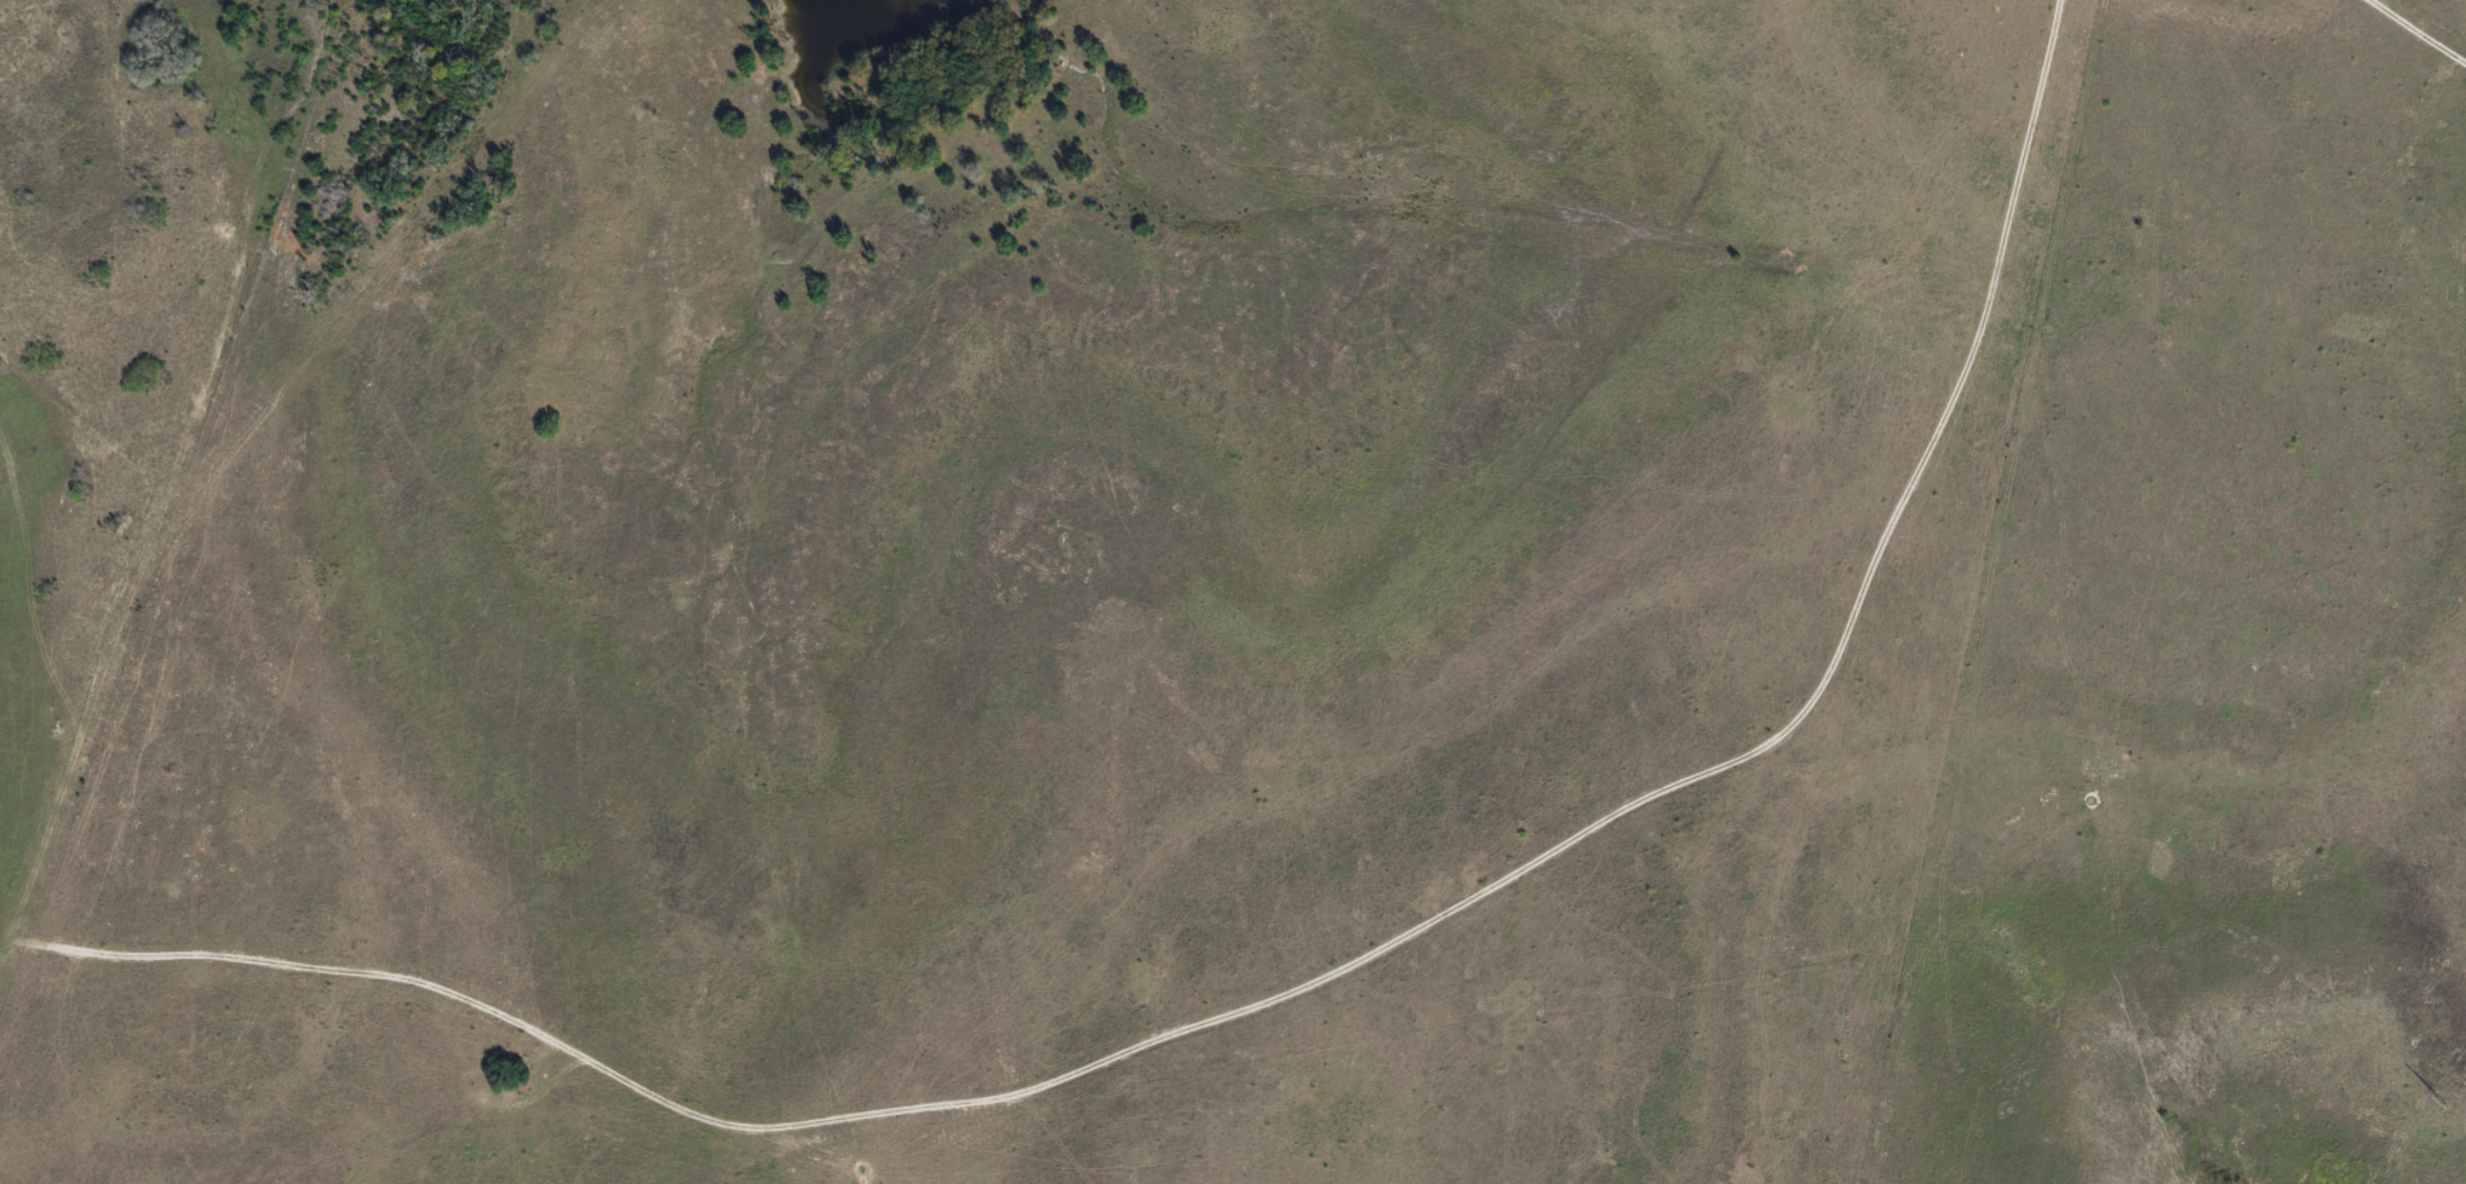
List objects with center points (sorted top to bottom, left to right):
power tower: (2441, 1099)

